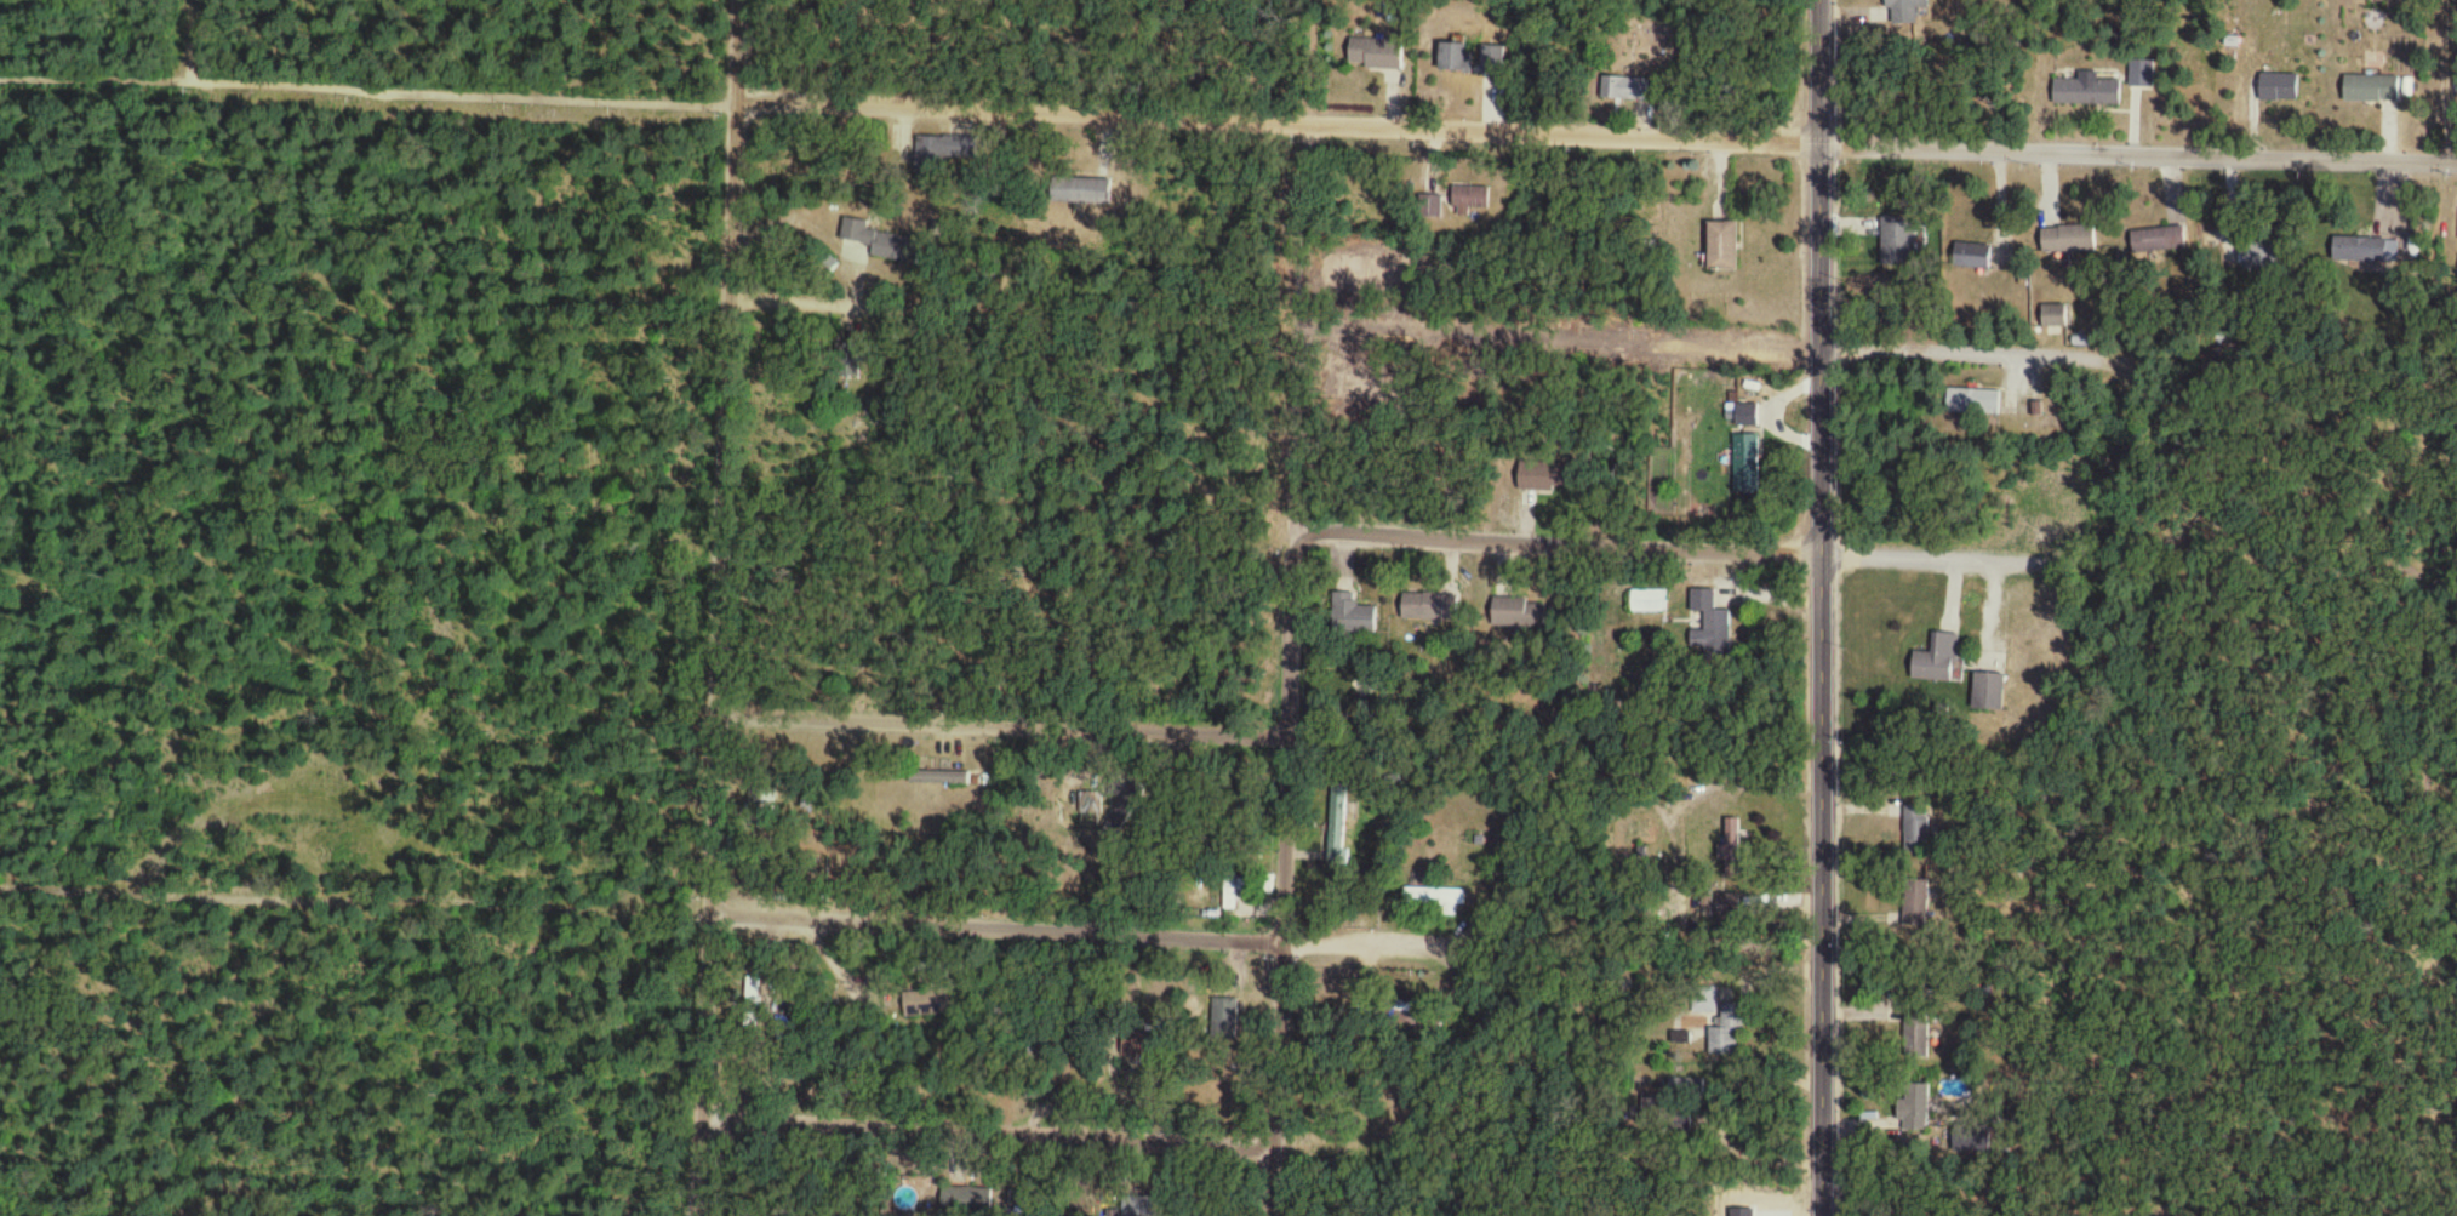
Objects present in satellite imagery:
building: (1907, 12)
building: (1375, 56)
building: (1453, 59)
building: (1492, 61)
building: (2278, 89)
building: (1628, 91)
building: (2371, 91)
road: (368, 93)
building: (2086, 93)
road: (1598, 133)
building: (943, 152)
building: (1081, 192)
building: (1470, 198)
building: (1430, 207)
building: (855, 233)
building: (2067, 240)
building: (2156, 240)
building: (1897, 244)
building: (1720, 246)
building: (2350, 251)
building: (1971, 257)
building: (828, 264)
road: (908, 297)
building: (2053, 316)
road: (1987, 356)
building: (1970, 401)
building: (1744, 417)
road: (1703, 554)
building: (1647, 604)
road: (732, 607)
road: (1828, 607)
building: (1428, 609)
building: (1518, 613)
building: (1350, 617)
building: (1709, 628)
building: (1935, 662)
building: (1987, 693)
road: (1011, 724)
building: (1092, 807)
building: (1338, 822)
building: (1918, 829)
building: (1731, 840)
road: (1292, 875)
building: (1233, 894)
building: (1434, 897)
building: (1915, 906)
road: (1007, 926)
road: (1389, 949)
building: (755, 1003)
building: (924, 1005)
building: (1224, 1012)
building: (1418, 1017)
building: (1727, 1033)
building: (1916, 1041)
building: (1915, 1108)
road: (1707, 1118)
road: (1270, 1143)
building: (968, 1201)
building: (1132, 1212)

